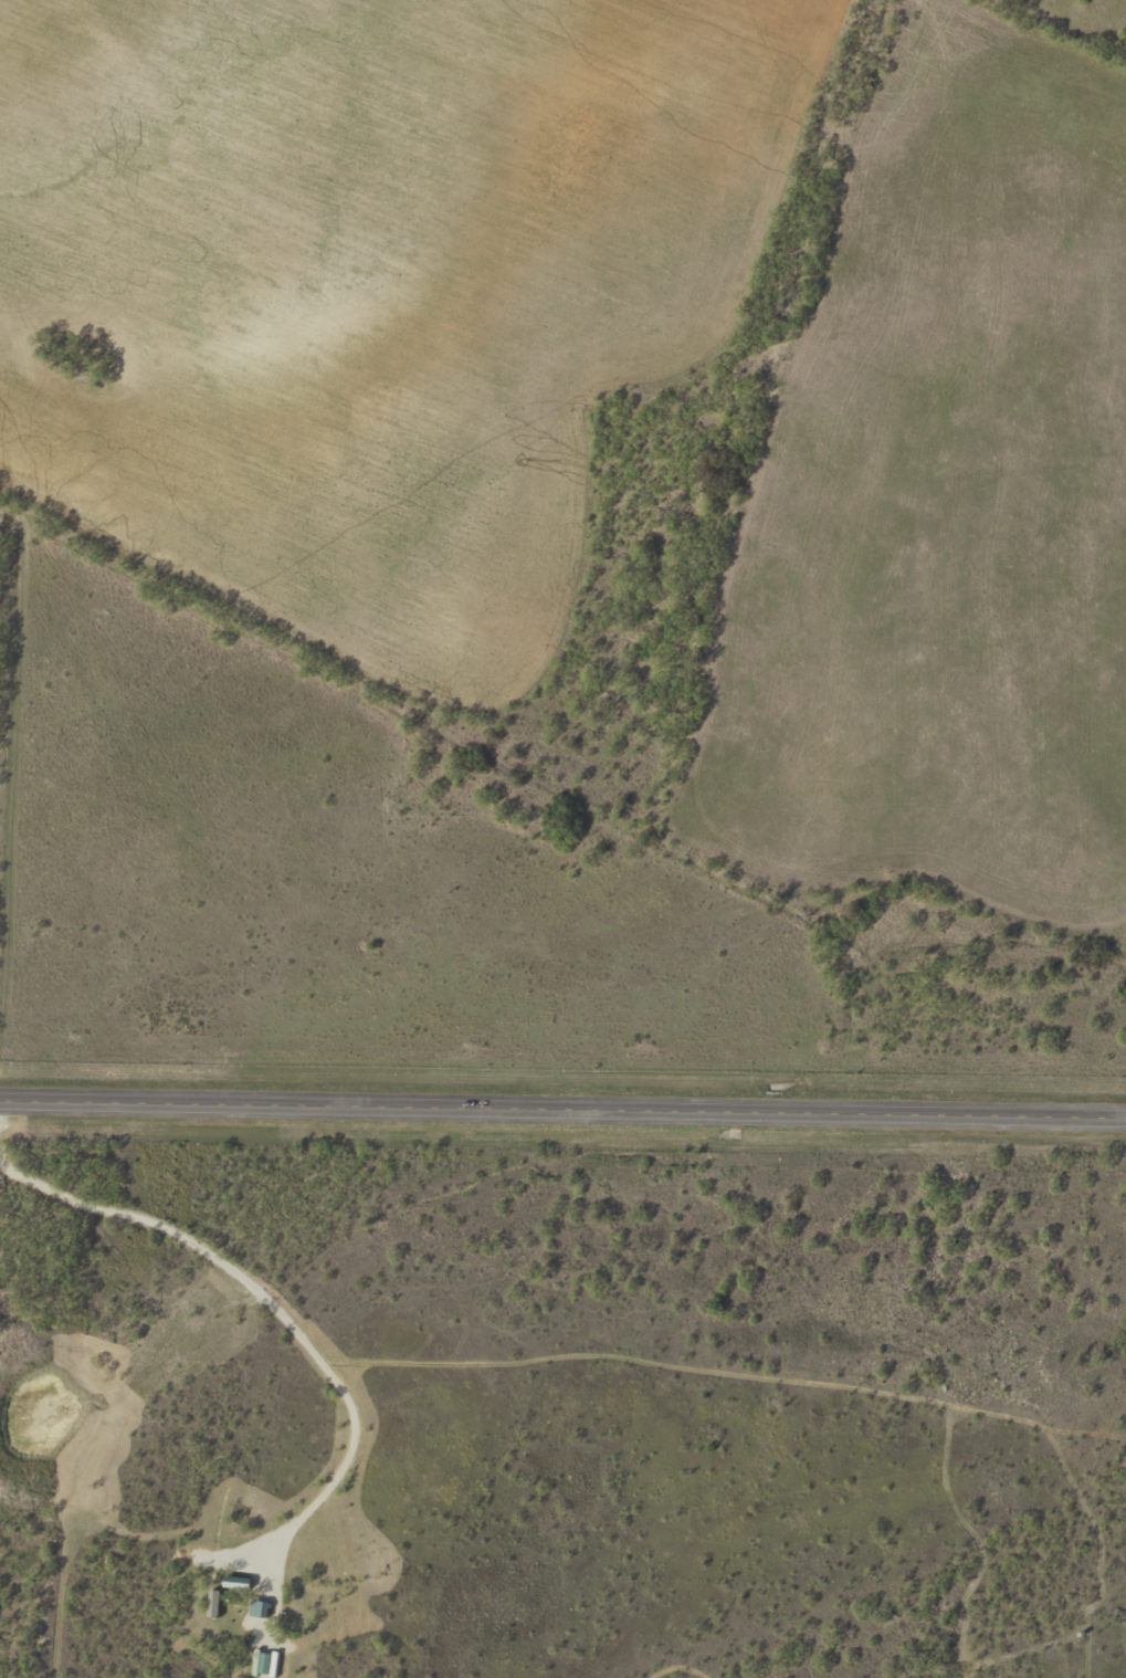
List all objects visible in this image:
road: (562, 1111)

